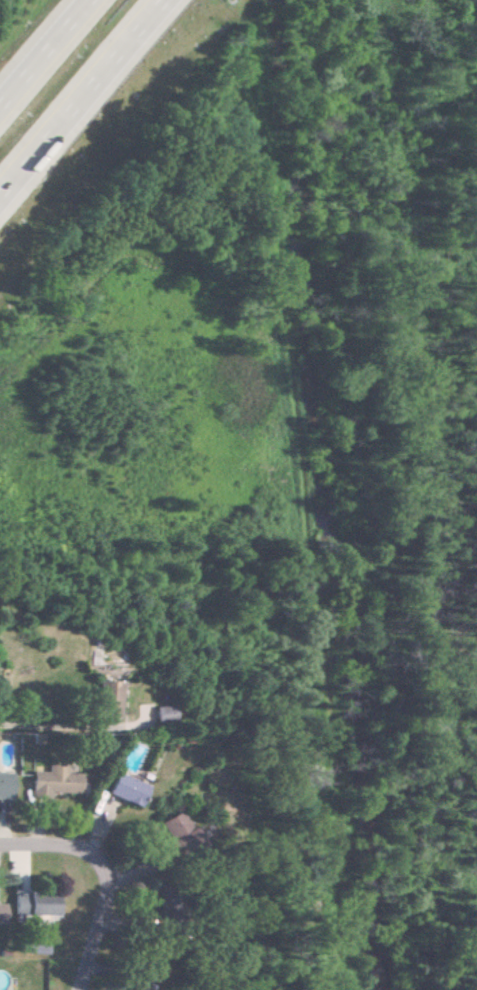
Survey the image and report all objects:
road: (43, 51)
road: (85, 100)
building: (104, 700)
building: (161, 715)
road: (36, 728)
building: (52, 782)
building: (5, 785)
building: (124, 790)
building: (178, 832)
road: (52, 848)
building: (35, 904)
building: (2, 913)
road: (101, 927)

